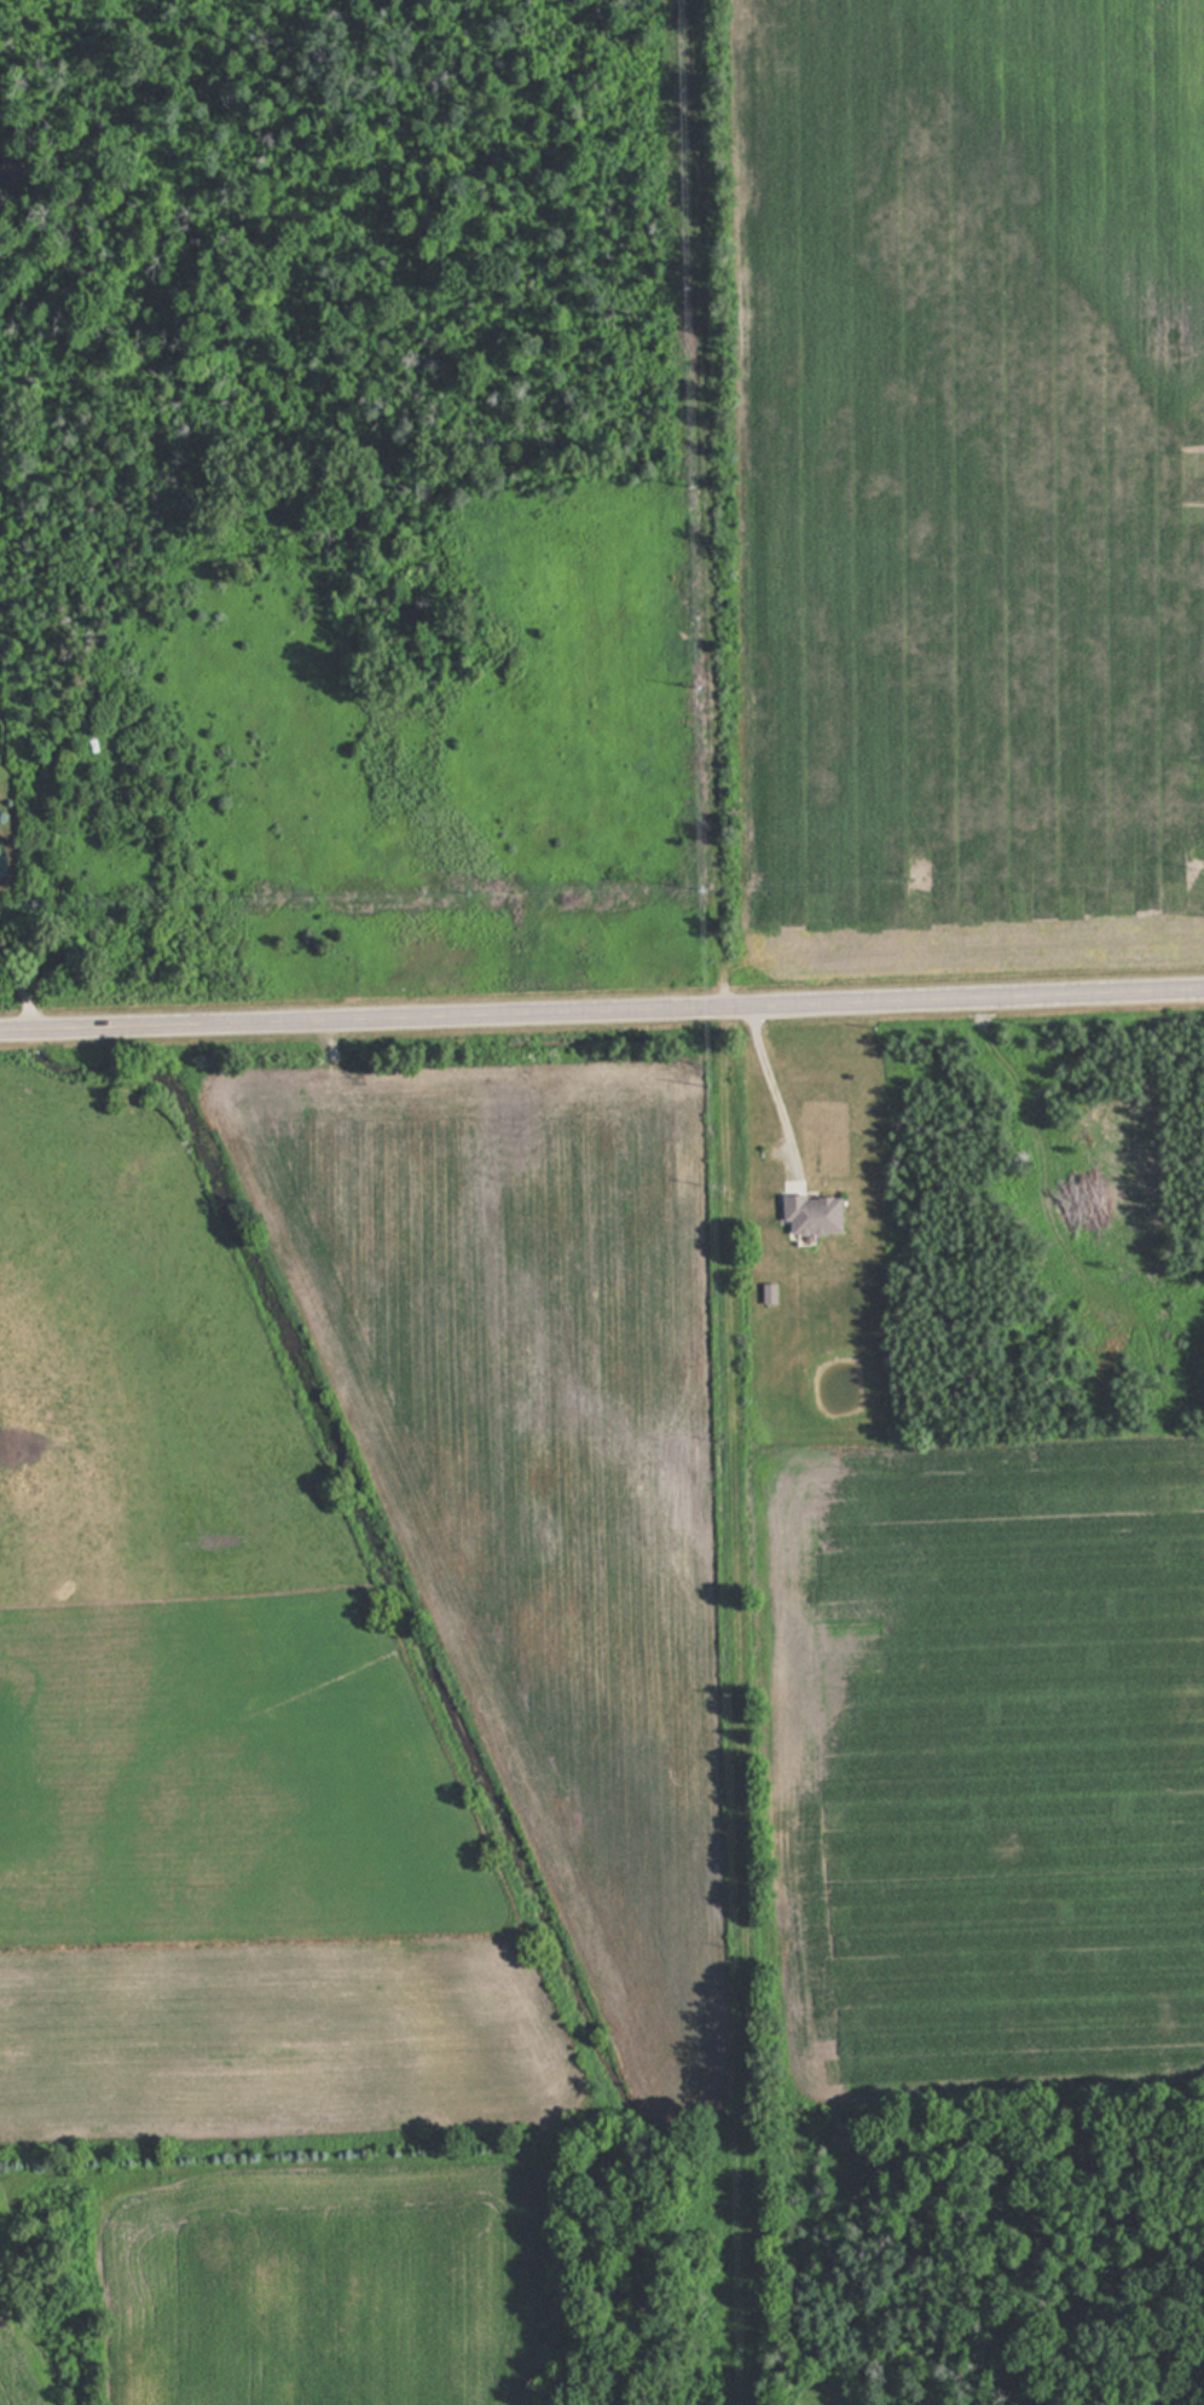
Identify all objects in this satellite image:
road: (602, 1004)
building: (810, 1212)
road: (706, 1703)

